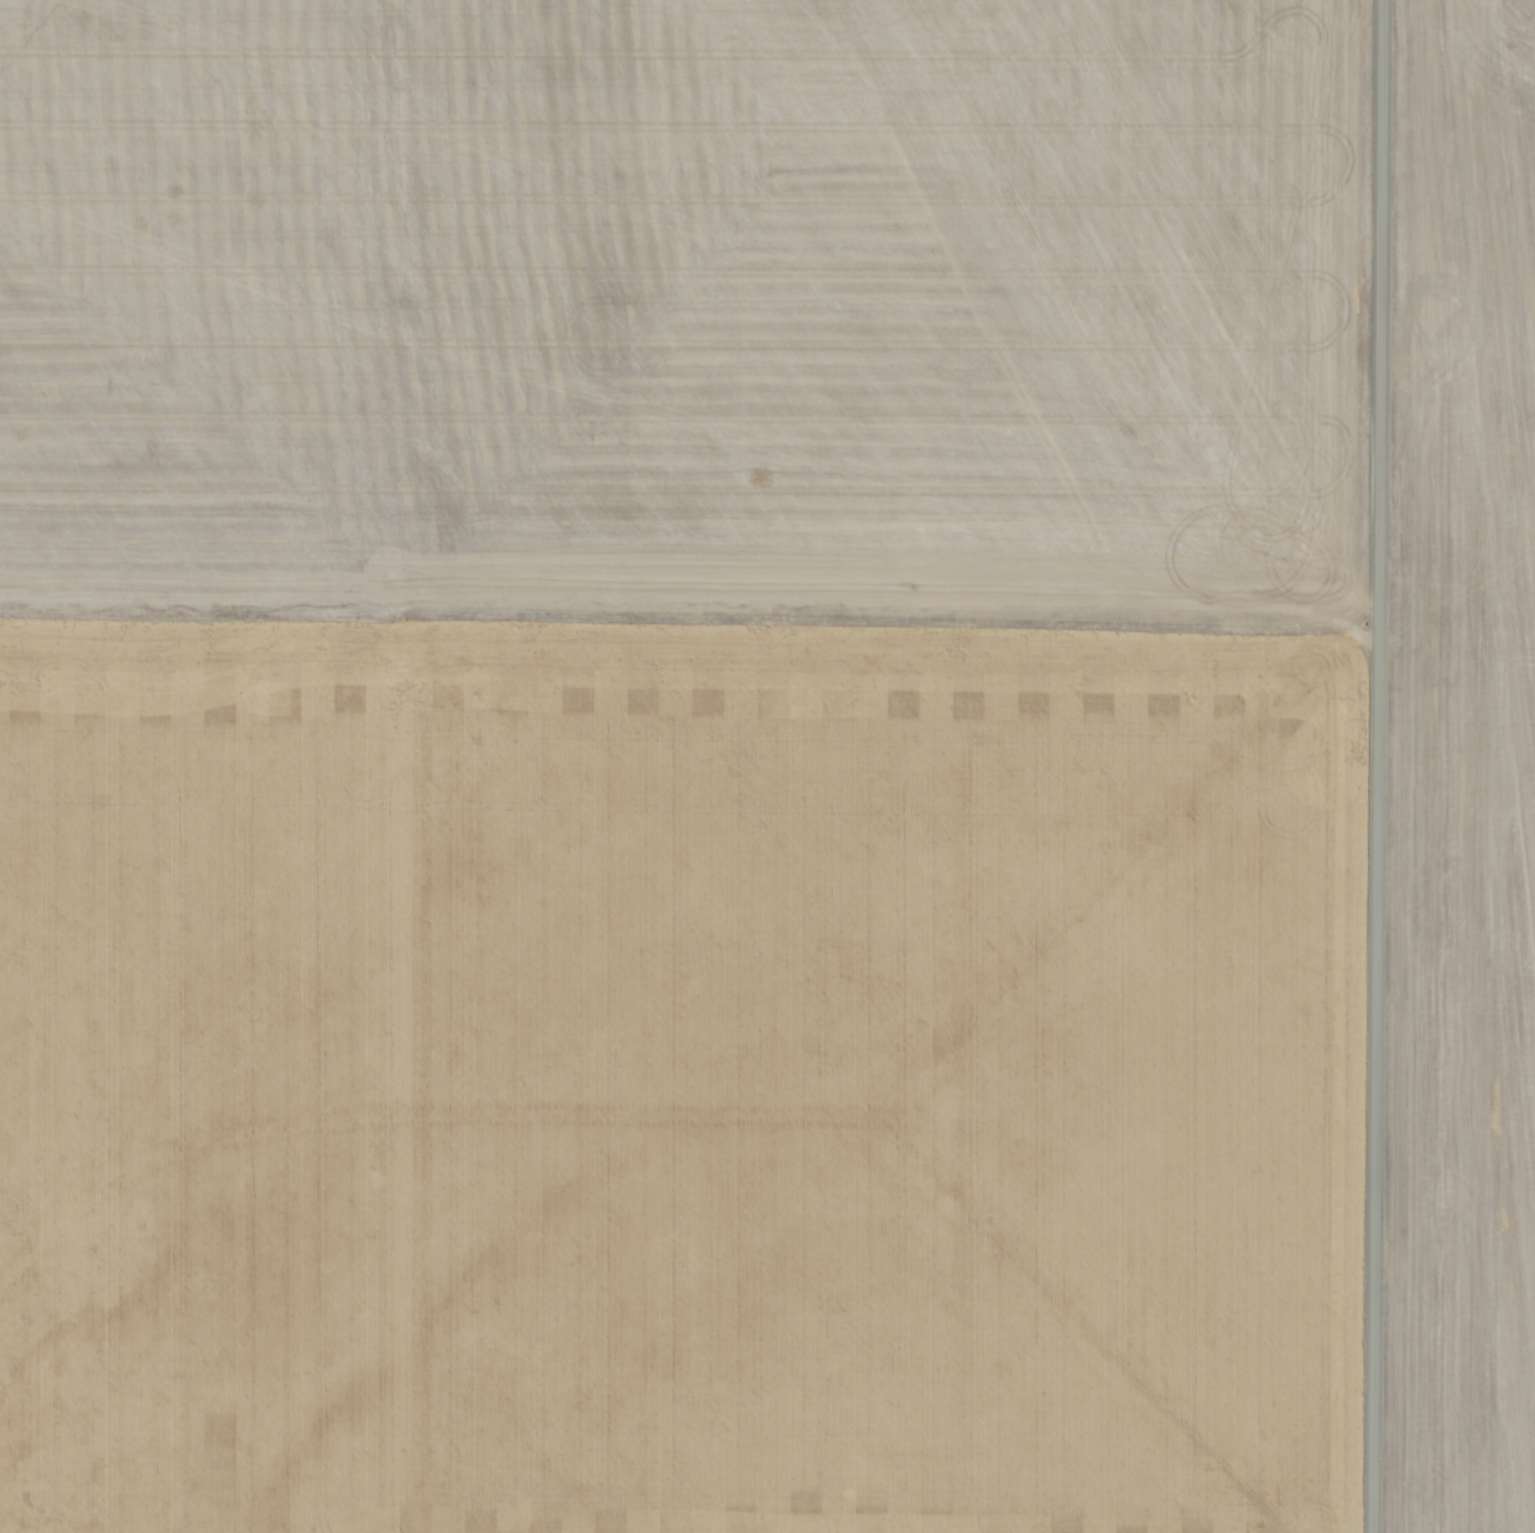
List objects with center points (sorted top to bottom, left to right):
road: (1376, 766)

